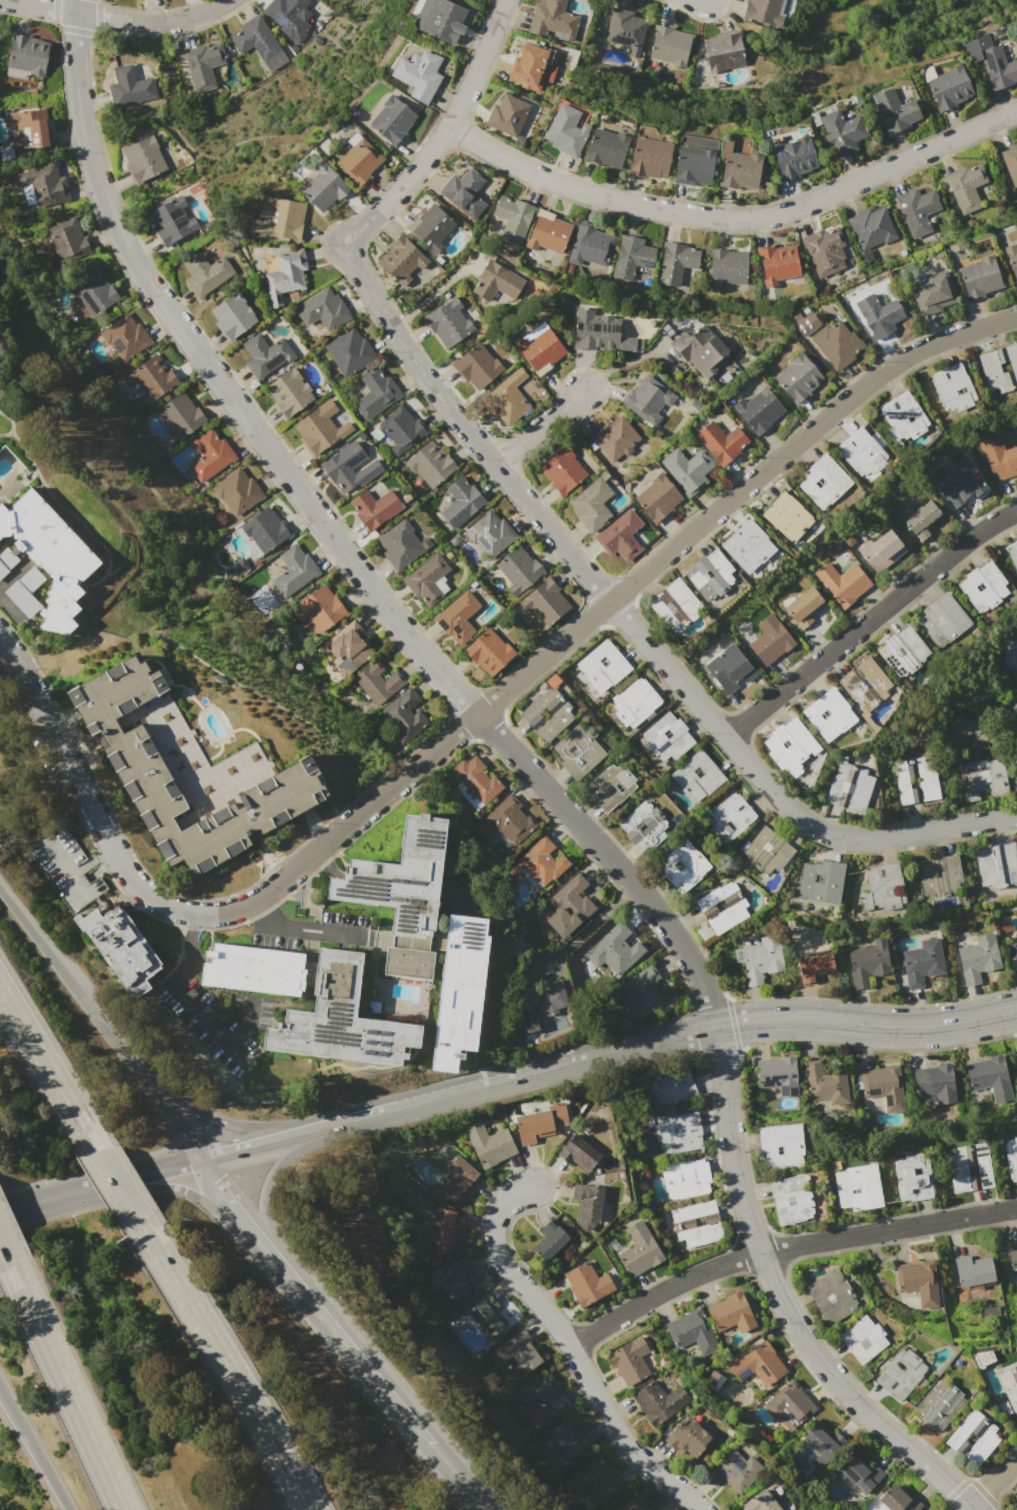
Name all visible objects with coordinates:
building: (328, 0)
building: (758, 8)
building: (289, 15)
building: (552, 16)
building: (439, 19)
road: (113, 21)
building: (624, 24)
building: (256, 38)
building: (669, 39)
park: (880, 42)
building: (722, 45)
building: (25, 54)
building: (530, 61)
building: (201, 63)
building: (998, 68)
building: (416, 71)
building: (131, 87)
building: (947, 88)
building: (893, 109)
building: (508, 110)
building: (391, 119)
building: (566, 124)
building: (28, 127)
building: (840, 129)
road: (439, 131)
building: (605, 141)
building: (649, 151)
building: (793, 156)
building: (357, 161)
building: (692, 161)
building: (142, 162)
building: (1010, 162)
building: (740, 167)
building: (964, 183)
building: (41, 184)
building: (462, 184)
building: (321, 187)
building: (914, 204)
building: (513, 208)
road: (733, 210)
building: (278, 220)
building: (430, 221)
building: (548, 222)
building: (868, 222)
building: (172, 225)
building: (589, 234)
building: (65, 239)
building: (823, 243)
building: (630, 247)
building: (675, 251)
building: (400, 255)
building: (776, 256)
building: (726, 257)
building: (1012, 260)
building: (494, 274)
building: (284, 275)
building: (978, 275)
building: (204, 278)
building: (93, 291)
building: (926, 292)
road: (431, 295)
building: (876, 309)
building: (320, 311)
building: (803, 316)
building: (447, 317)
building: (594, 321)
building: (232, 323)
building: (125, 333)
building: (835, 334)
building: (698, 339)
building: (535, 340)
building: (348, 351)
building: (263, 357)
building: (473, 359)
road: (618, 364)
building: (1000, 368)
building: (152, 380)
road: (219, 383)
building: (800, 384)
road: (429, 386)
building: (953, 387)
building: (288, 394)
building: (373, 394)
building: (505, 400)
building: (646, 404)
building: (179, 416)
building: (761, 416)
building: (902, 417)
building: (317, 427)
building: (399, 427)
road: (540, 433)
building: (614, 442)
building: (720, 447)
building: (862, 452)
building: (208, 454)
building: (999, 458)
building: (341, 466)
building: (431, 466)
building: (562, 473)
building: (686, 474)
building: (824, 481)
building: (960, 484)
building: (236, 490)
building: (657, 502)
building: (461, 504)
building: (372, 508)
building: (591, 508)
building: (788, 516)
building: (922, 521)
building: (262, 529)
building: (491, 533)
building: (621, 536)
building: (650, 543)
building: (398, 545)
building: (748, 546)
building: (882, 550)
building: (53, 553)
building: (1013, 555)
building: (7, 560)
building: (293, 569)
building: (520, 571)
building: (709, 574)
road: (10, 577)
building: (426, 579)
building: (843, 583)
building: (984, 586)
building: (27, 589)
building: (546, 602)
building: (675, 606)
building: (805, 607)
road: (8, 609)
building: (322, 610)
road: (598, 613)
building: (458, 618)
building: (943, 620)
road: (869, 625)
building: (741, 631)
building: (771, 639)
building: (349, 644)
building: (903, 651)
building: (490, 652)
building: (1011, 657)
building: (603, 666)
building: (730, 668)
building: (378, 683)
building: (865, 683)
building: (635, 702)
building: (549, 712)
building: (404, 713)
building: (829, 714)
building: (964, 723)
building: (667, 738)
building: (790, 747)
building: (578, 752)
road: (739, 756)
building: (144, 774)
building: (697, 777)
building: (983, 779)
building: (475, 780)
building: (916, 781)
building: (611, 787)
building: (849, 787)
road: (80, 789)
building: (729, 818)
building: (507, 821)
building: (645, 826)
building: (767, 850)
building: (541, 863)
building: (997, 865)
building: (683, 866)
building: (65, 867)
building: (406, 878)
building: (941, 878)
building: (822, 881)
building: (883, 889)
building: (570, 907)
building: (722, 907)
road: (258, 913)
road: (315, 928)
road: (586, 929)
road: (187, 939)
building: (1016, 946)
building: (126, 949)
building: (617, 949)
building: (979, 958)
building: (762, 959)
road: (56, 962)
building: (869, 962)
building: (922, 962)
building: (413, 963)
building: (815, 966)
building: (257, 969)
building: (643, 991)
building: (466, 992)
building: (544, 997)
road: (200, 1015)
building: (348, 1020)
road: (245, 1023)
road: (697, 1030)
building: (1016, 1051)
road: (47, 1071)
building: (778, 1075)
building: (990, 1077)
building: (935, 1083)
building: (826, 1084)
building: (666, 1086)
building: (882, 1086)
road: (157, 1099)
road: (726, 1114)
road: (207, 1115)
road: (357, 1119)
building: (534, 1126)
building: (678, 1133)
road: (266, 1144)
building: (489, 1144)
building: (781, 1144)
building: (579, 1152)
building: (1011, 1158)
road: (278, 1168)
building: (969, 1168)
building: (913, 1177)
building: (686, 1178)
road: (114, 1181)
building: (456, 1183)
building: (858, 1187)
road: (101, 1188)
building: (791, 1199)
building: (588, 1202)
building: (697, 1223)
road: (244, 1224)
building: (444, 1233)
building: (551, 1241)
road: (2, 1245)
road: (783, 1247)
building: (639, 1249)
building: (1012, 1254)
building: (973, 1271)
building: (456, 1278)
building: (919, 1282)
building: (587, 1284)
building: (832, 1296)
building: (731, 1313)
building: (488, 1317)
building: (692, 1331)
building: (863, 1338)
road: (571, 1348)
building: (519, 1352)
building: (982, 1357)
road: (222, 1360)
building: (630, 1360)
building: (758, 1364)
building: (901, 1373)
road: (63, 1380)
building: (1009, 1386)
road: (388, 1396)
building: (546, 1398)
building: (659, 1401)
building: (790, 1405)
building: (939, 1405)
building: (687, 1437)
building: (973, 1438)
building: (568, 1439)
building: (821, 1445)
road: (34, 1450)
building: (734, 1471)
building: (860, 1474)
road: (993, 1481)
building: (589, 1486)
park: (1009, 1498)
building: (898, 1500)
building: (760, 1502)
building: (633, 1504)

